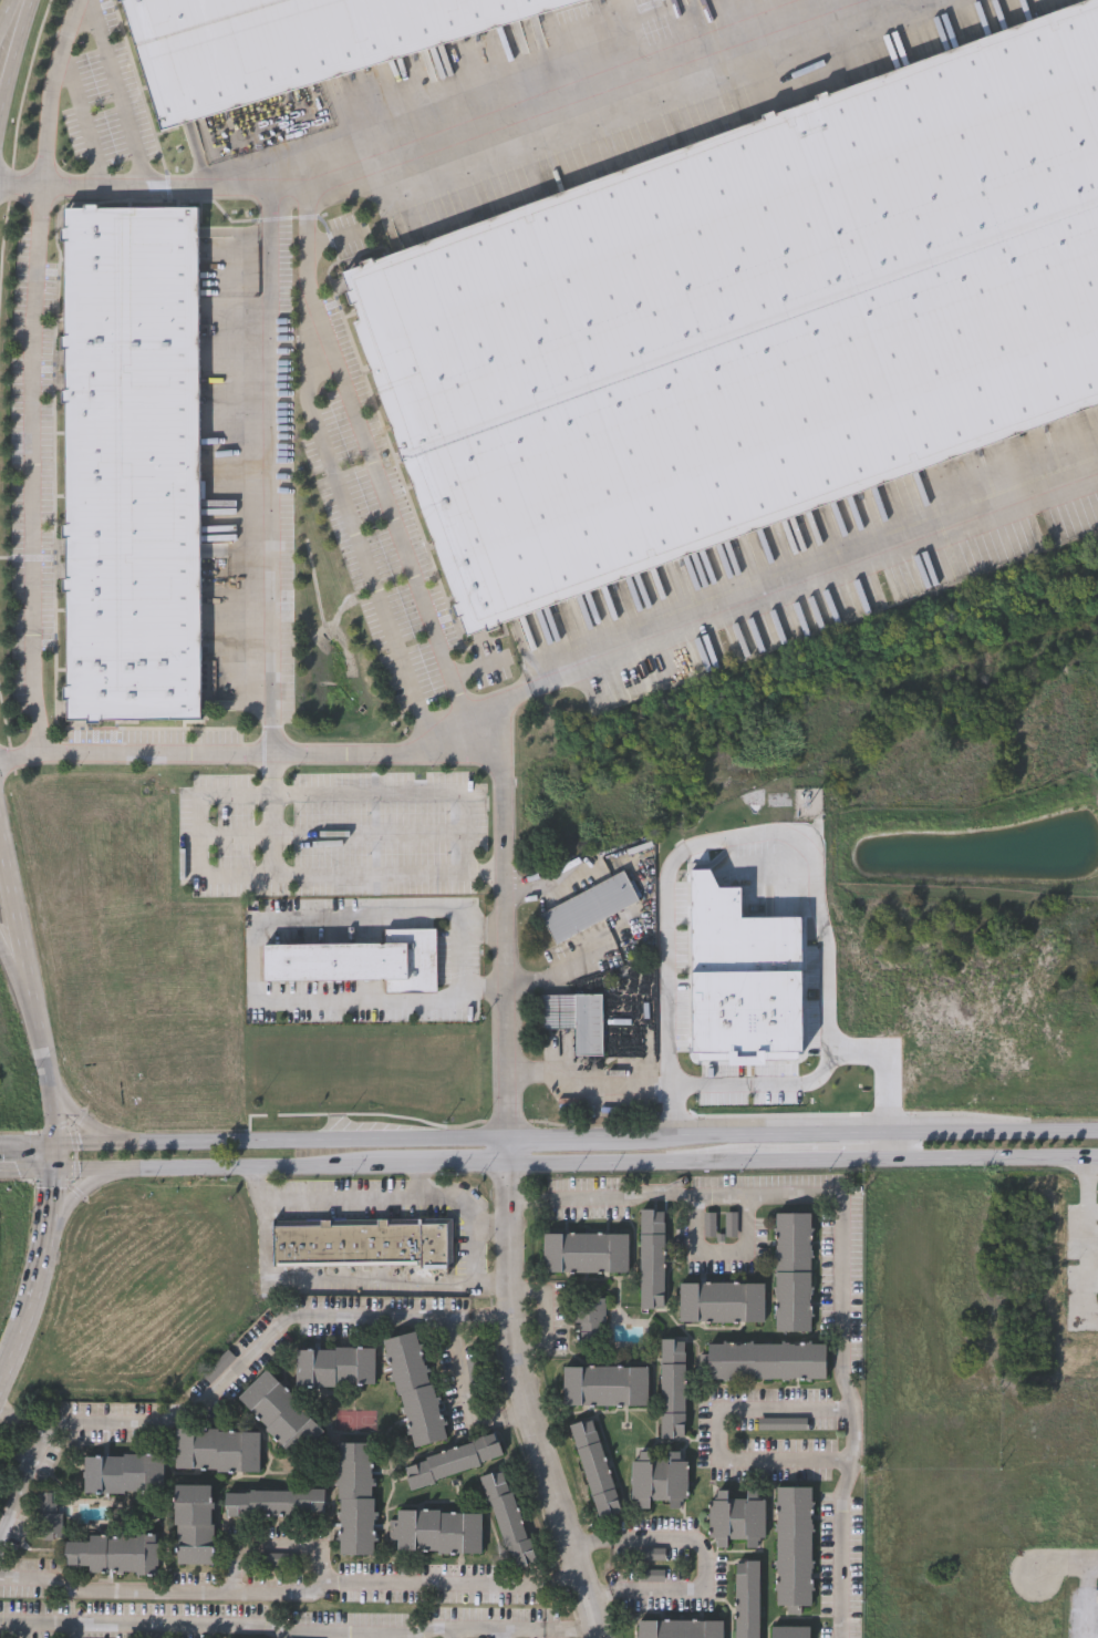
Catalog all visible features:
road: (832, 3)
road: (9, 19)
building: (288, 42)
road: (15, 59)
road: (116, 93)
road: (85, 123)
road: (435, 137)
building: (749, 317)
road: (369, 453)
building: (132, 462)
road: (269, 471)
road: (356, 537)
road: (247, 754)
road: (22, 756)
road: (272, 774)
road: (386, 792)
road: (217, 795)
road: (272, 813)
road: (711, 838)
road: (200, 846)
building: (589, 905)
road: (491, 926)
road: (500, 947)
road: (459, 955)
road: (259, 958)
building: (360, 959)
road: (559, 970)
road: (490, 985)
road: (31, 997)
building: (574, 1017)
road: (27, 1022)
road: (827, 1061)
road: (586, 1073)
road: (854, 1127)
road: (91, 1133)
road: (557, 1137)
road: (324, 1143)
road: (104, 1147)
road: (30, 1150)
traffic signals: (60, 1150)
road: (617, 1161)
road: (59, 1163)
road: (97, 1173)
road: (29, 1176)
traffic signals: (59, 1176)
road: (343, 1193)
road: (618, 1194)
road: (82, 1195)
road: (522, 1201)
road: (448, 1206)
road: (53, 1209)
road: (1091, 1235)
building: (362, 1242)
road: (696, 1244)
building: (584, 1250)
building: (651, 1256)
building: (791, 1269)
road: (330, 1278)
road: (32, 1285)
building: (721, 1300)
road: (547, 1312)
road: (491, 1316)
building: (591, 1317)
road: (9, 1351)
building: (766, 1358)
building: (334, 1363)
road: (842, 1374)
building: (604, 1382)
building: (672, 1384)
building: (414, 1385)
road: (213, 1387)
road: (524, 1393)
road: (467, 1395)
building: (280, 1411)
road: (13, 1413)
road: (34, 1423)
road: (721, 1434)
building: (216, 1446)
building: (452, 1457)
building: (594, 1464)
building: (122, 1470)
building: (659, 1476)
building: (354, 1494)
building: (273, 1500)
building: (46, 1512)
building: (736, 1515)
building: (507, 1516)
building: (191, 1521)
building: (436, 1528)
road: (270, 1543)
building: (794, 1544)
building: (110, 1551)
building: (653, 1553)
road: (701, 1566)
road: (1067, 1570)
road: (290, 1590)
building: (746, 1597)
road: (1086, 1604)
building: (680, 1627)
road: (272, 1628)
road: (569, 1628)
building: (789, 1630)
road: (449, 1631)
road: (498, 1632)

